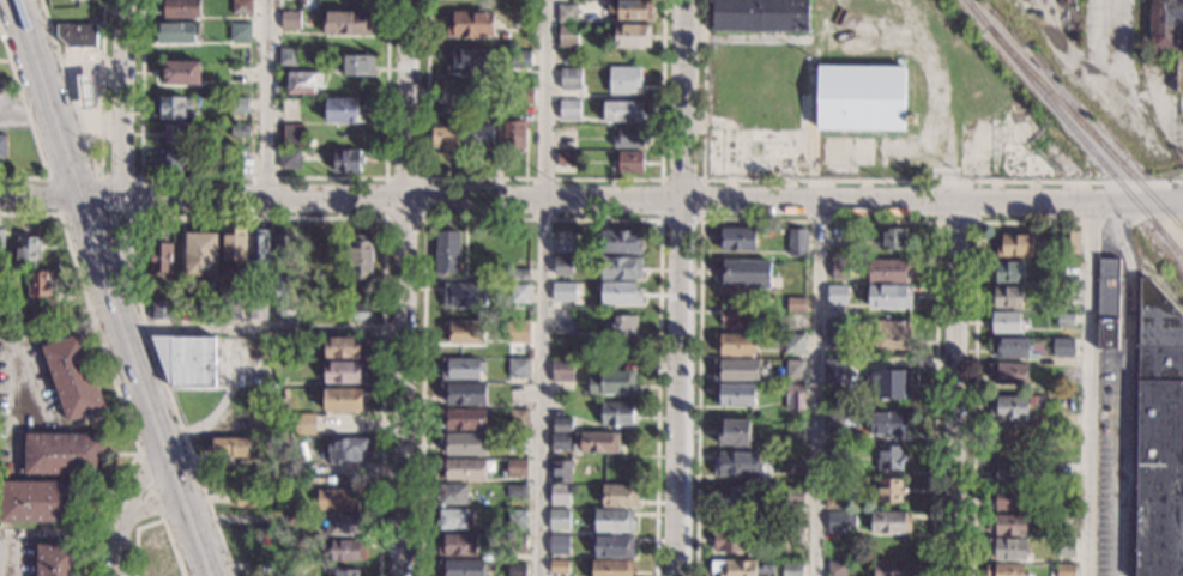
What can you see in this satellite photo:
building: (179, 7)
building: (241, 7)
building: (630, 8)
building: (567, 12)
railway: (976, 13)
building: (761, 16)
building: (290, 19)
building: (345, 23)
building: (470, 23)
road: (1119, 29)
building: (176, 31)
building: (240, 32)
building: (1167, 32)
building: (77, 35)
building: (505, 35)
building: (629, 35)
building: (569, 36)
building: (288, 56)
building: (584, 56)
building: (753, 57)
building: (520, 59)
building: (469, 61)
building: (354, 65)
building: (182, 72)
building: (569, 78)
building: (624, 79)
building: (304, 81)
building: (85, 91)
building: (523, 96)
building: (861, 97)
road: (122, 98)
road: (265, 99)
road: (405, 99)
building: (237, 105)
road: (24, 107)
building: (175, 108)
building: (343, 109)
building: (569, 109)
building: (622, 110)
railway: (1075, 111)
building: (755, 126)
road: (30, 127)
building: (973, 128)
railway: (1085, 128)
building: (240, 131)
building: (513, 132)
building: (567, 132)
building: (175, 133)
building: (294, 135)
building: (477, 135)
building: (445, 137)
building: (628, 138)
railway: (1086, 144)
building: (4, 145)
building: (236, 158)
building: (289, 158)
building: (177, 159)
building: (567, 159)
building: (346, 160)
building: (1021, 160)
building: (629, 162)
road: (97, 171)
road: (262, 177)
road: (542, 178)
road: (852, 180)
road: (140, 192)
road: (60, 199)
road: (264, 200)
road: (793, 204)
road: (60, 214)
road: (253, 218)
road: (660, 218)
road: (424, 219)
road: (542, 219)
road: (819, 220)
road: (977, 220)
building: (1, 237)
building: (736, 238)
building: (893, 238)
building: (234, 241)
building: (618, 241)
building: (1069, 241)
railway: (1170, 241)
building: (796, 242)
building: (283, 244)
building: (1015, 244)
building: (258, 247)
building: (563, 247)
building: (28, 248)
building: (446, 251)
building: (200, 253)
building: (159, 256)
building: (321, 256)
building: (360, 256)
road: (125, 261)
road: (122, 265)
road: (404, 265)
building: (562, 266)
building: (621, 267)
building: (839, 268)
building: (888, 269)
building: (1009, 272)
building: (520, 273)
building: (747, 273)
road: (545, 287)
road: (682, 287)
road: (108, 289)
building: (150, 289)
building: (563, 291)
building: (38, 292)
building: (519, 292)
building: (620, 292)
building: (465, 293)
building: (837, 293)
building: (889, 296)
building: (1008, 297)
building: (1107, 303)
building: (796, 304)
building: (162, 309)
building: (279, 309)
building: (340, 309)
building: (233, 310)
building: (258, 310)
building: (363, 313)
building: (732, 314)
building: (562, 319)
building: (1066, 319)
building: (1006, 321)
building: (621, 326)
road: (262, 329)
building: (464, 331)
building: (518, 332)
building: (837, 332)
building: (892, 334)
building: (793, 342)
road: (974, 342)
building: (736, 344)
building: (1062, 346)
building: (344, 347)
building: (1009, 347)
road: (14, 348)
building: (837, 351)
building: (186, 359)
building: (779, 364)
building: (518, 366)
building: (460, 368)
building: (795, 369)
road: (110, 370)
building: (562, 370)
building: (735, 370)
building: (835, 370)
building: (344, 371)
building: (1008, 374)
building: (72, 376)
building: (610, 382)
building: (887, 383)
road: (1124, 388)
road: (817, 389)
building: (1049, 389)
road: (1087, 390)
building: (517, 392)
road: (959, 392)
building: (464, 393)
building: (734, 394)
parking lot: (24, 398)
building: (793, 398)
building: (344, 399)
building: (1008, 406)
road: (219, 413)
building: (616, 413)
road: (95, 418)
building: (463, 418)
building: (518, 419)
building: (835, 422)
building: (886, 422)
building: (304, 423)
building: (561, 425)
building: (734, 432)
building: (1158, 435)
building: (285, 441)
building: (560, 442)
building: (597, 442)
building: (463, 443)
building: (518, 443)
building: (230, 445)
building: (345, 448)
road: (402, 453)
building: (64, 454)
building: (835, 455)
building: (889, 456)
building: (795, 462)
building: (735, 463)
building: (515, 467)
building: (461, 468)
building: (1067, 468)
building: (560, 472)
building: (1010, 473)
road: (149, 485)
building: (889, 490)
building: (515, 491)
building: (451, 493)
building: (1066, 493)
building: (560, 495)
building: (618, 495)
building: (792, 496)
building: (243, 497)
building: (730, 498)
building: (835, 498)
building: (1007, 498)
building: (337, 499)
building: (40, 502)
road: (122, 509)
building: (300, 519)
building: (453, 519)
building: (515, 519)
building: (559, 519)
road: (155, 521)
building: (612, 521)
building: (837, 521)
building: (891, 522)
building: (1008, 523)
building: (344, 525)
road: (41, 533)
building: (792, 533)
building: (732, 540)
building: (457, 544)
building: (515, 544)
building: (559, 545)
building: (612, 546)
building: (1066, 546)
building: (265, 547)
building: (1007, 548)
building: (346, 550)
building: (55, 559)
building: (459, 566)
building: (559, 566)
building: (611, 568)
building: (744, 568)
building: (837, 568)
building: (892, 568)
building: (790, 569)
building: (1004, 569)
building: (515, 570)
building: (1066, 570)
building: (345, 572)

